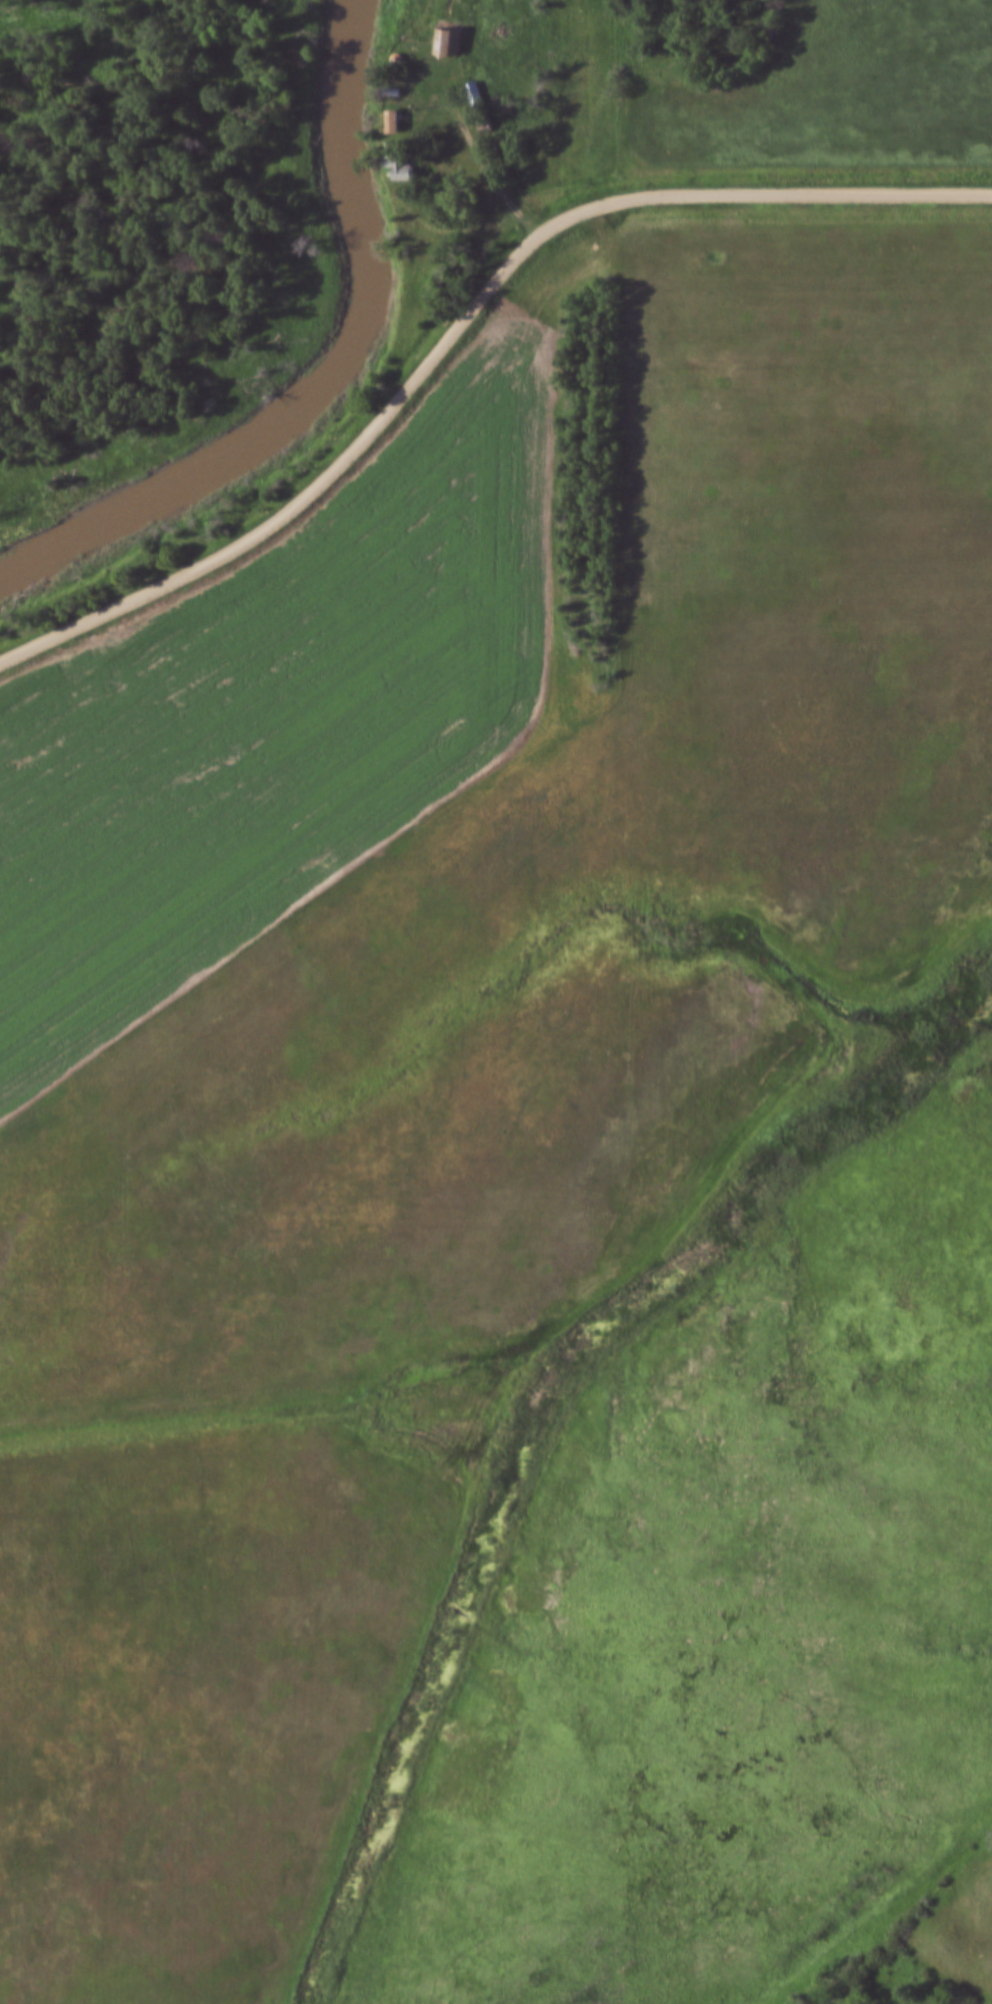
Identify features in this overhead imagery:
building: (447, 39)
building: (474, 94)
road: (483, 151)
building: (400, 160)
road: (462, 324)
river: (327, 370)
road: (559, 463)

